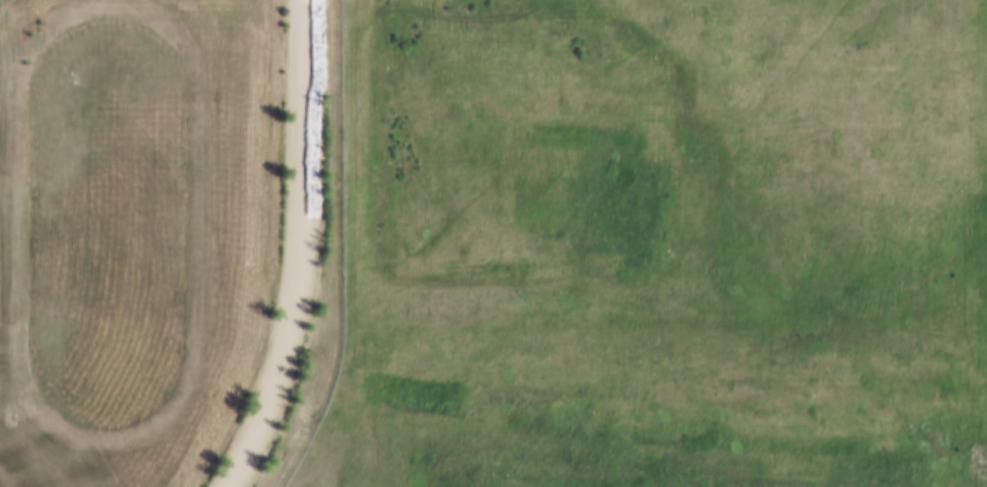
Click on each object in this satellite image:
track: (197, 222)
road: (298, 250)

